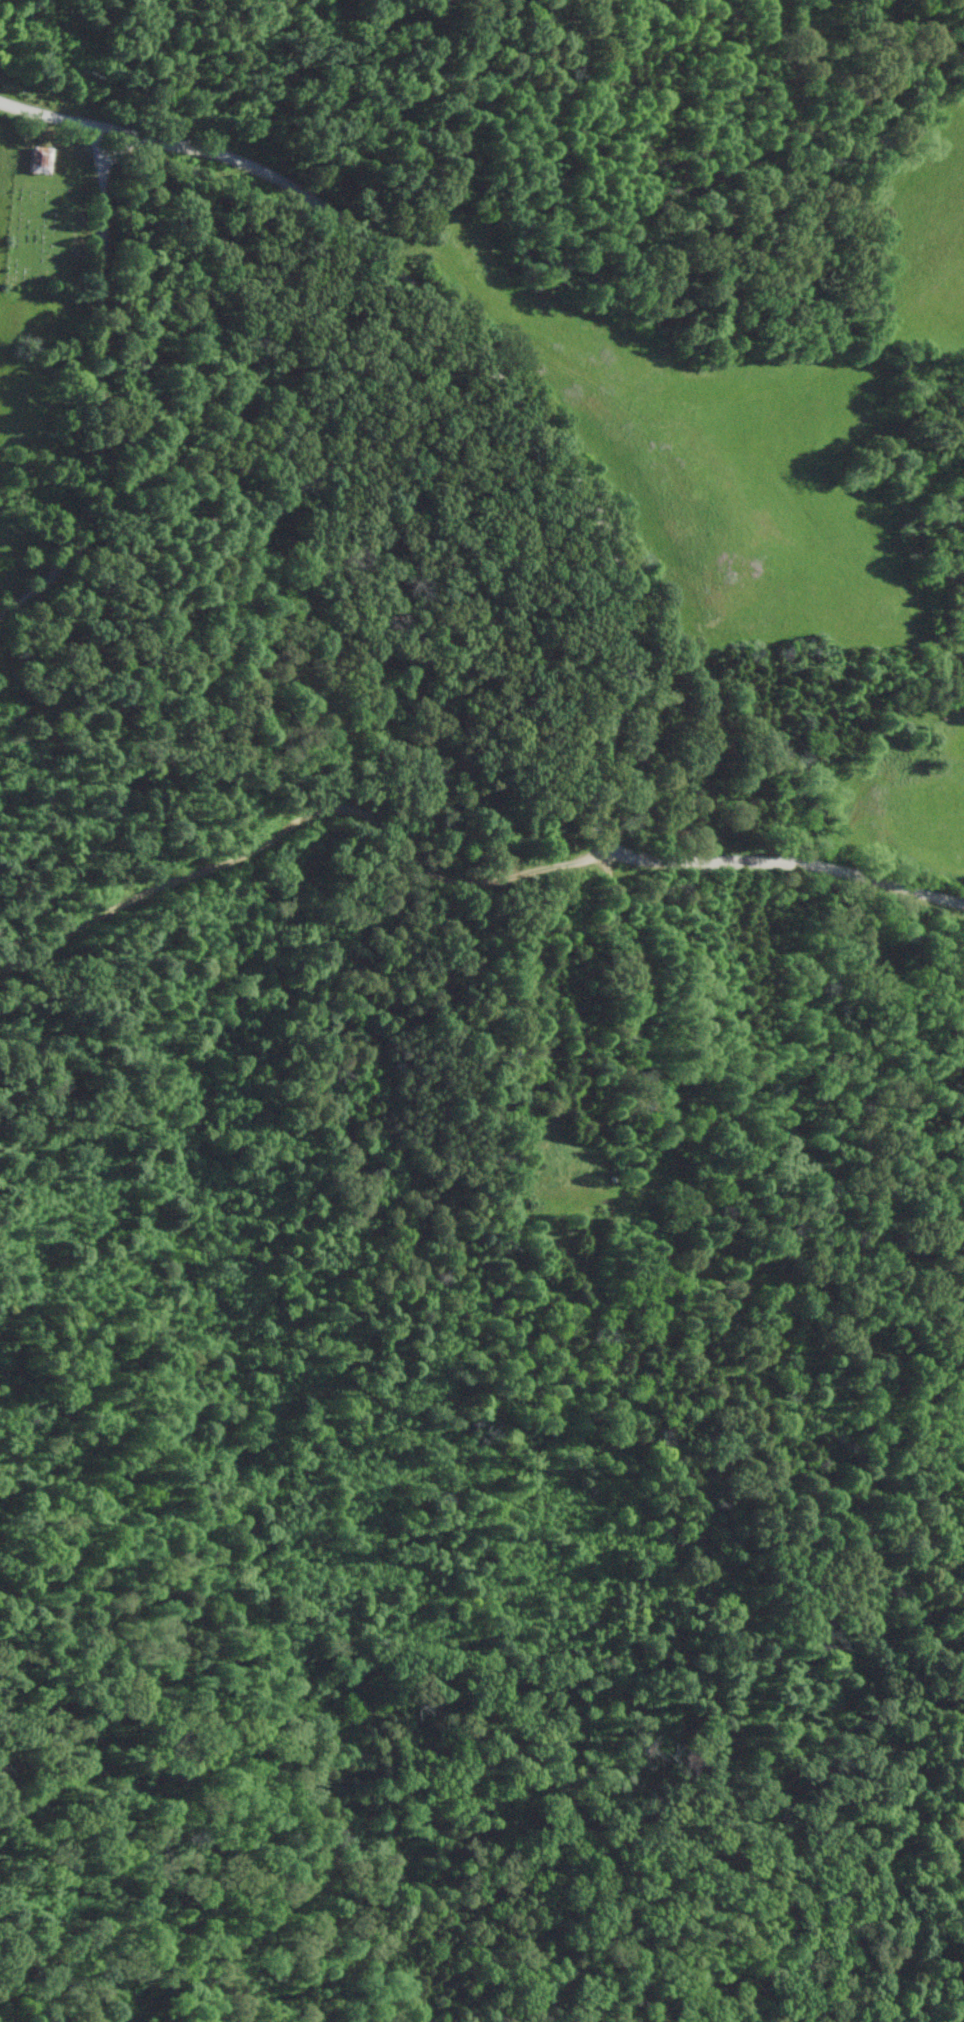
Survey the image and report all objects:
building: (40, 161)
road: (105, 391)
road: (587, 490)

